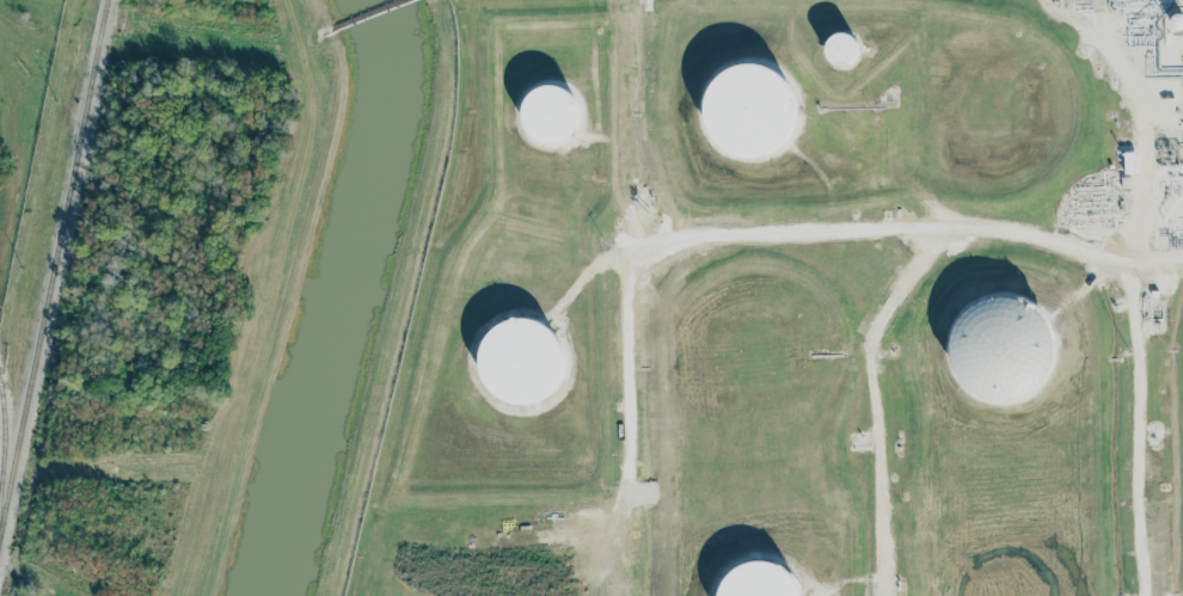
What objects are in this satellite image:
building: (841, 48)
storage tank: (841, 48)
road: (1103, 48)
building: (749, 110)
storage tank: (749, 110)
building: (550, 113)
storage tank: (550, 113)
road: (735, 234)
railway: (51, 263)
road: (590, 269)
road: (1087, 281)
building: (1000, 348)
storage tank: (1000, 348)
road: (1136, 354)
building: (521, 360)
storage tank: (521, 360)
road: (874, 403)
railway: (4, 440)
building: (759, 580)
storage tank: (759, 580)

